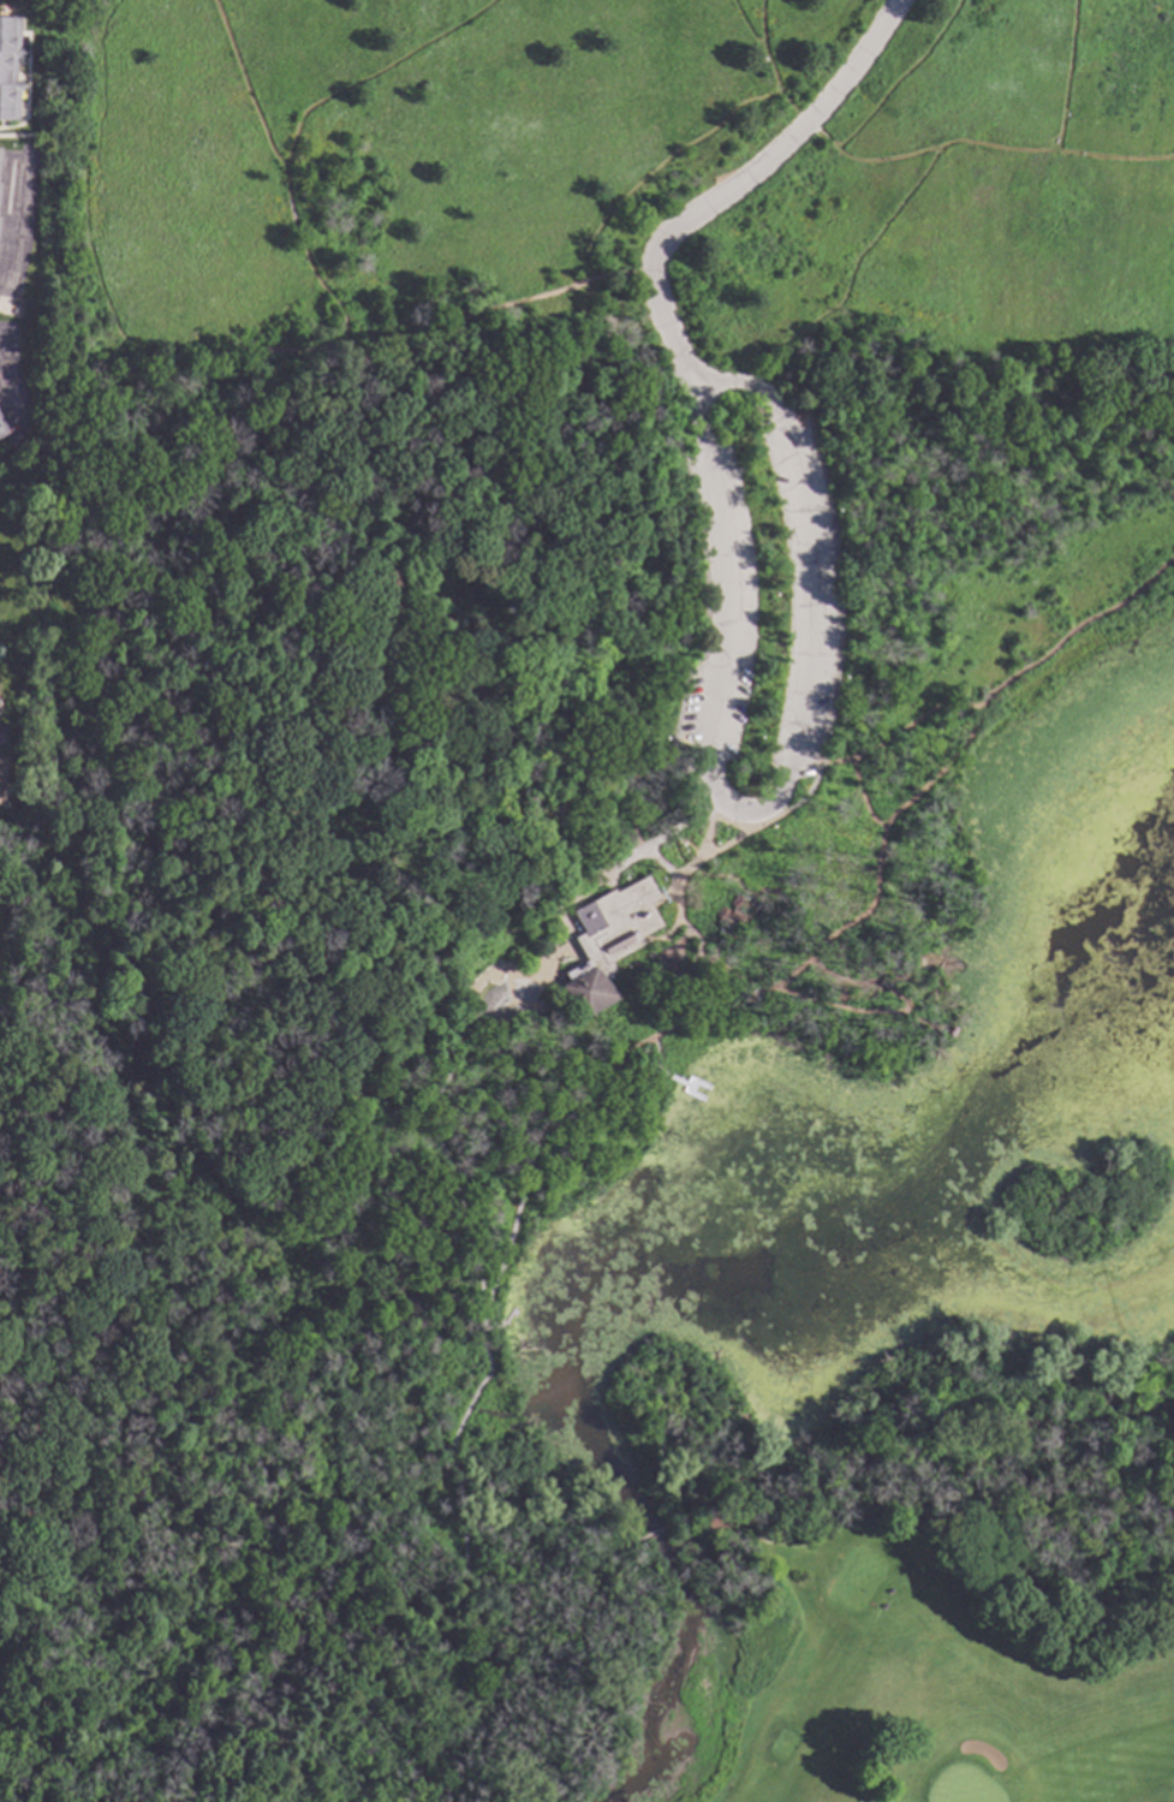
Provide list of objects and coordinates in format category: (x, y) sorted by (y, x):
road: (761, 25)
road: (764, 57)
building: (8, 66)
road: (374, 73)
road: (1065, 75)
road: (900, 76)
road: (806, 121)
road: (18, 136)
road: (989, 145)
road: (656, 167)
road: (737, 186)
road: (13, 227)
road: (85, 245)
road: (851, 272)
road: (716, 383)
road: (482, 385)
road: (7, 397)
building: (1, 429)
building: (0, 435)
road: (159, 523)
parking lot: (762, 601)
building: (0, 779)
road: (856, 783)
road: (695, 787)
road: (758, 808)
road: (707, 837)
road: (658, 862)
building: (733, 902)
park: (598, 909)
building: (720, 914)
building: (733, 915)
road: (567, 921)
road: (499, 932)
road: (820, 940)
building: (607, 941)
road: (740, 981)
road: (858, 982)
road: (375, 1007)
road: (657, 1058)
pier: (690, 1087)
road: (454, 1194)
road: (169, 1220)
road: (513, 1221)
road: (410, 1262)
road: (470, 1267)
pier: (508, 1315)
road: (491, 1324)
road: (923, 1432)
road: (453, 1438)
road: (261, 1480)
building: (919, 1506)
road: (65, 1530)
road: (174, 1533)
road: (274, 1554)
road: (592, 1562)
park: (877, 1678)
road: (505, 1701)
road: (441, 1718)

